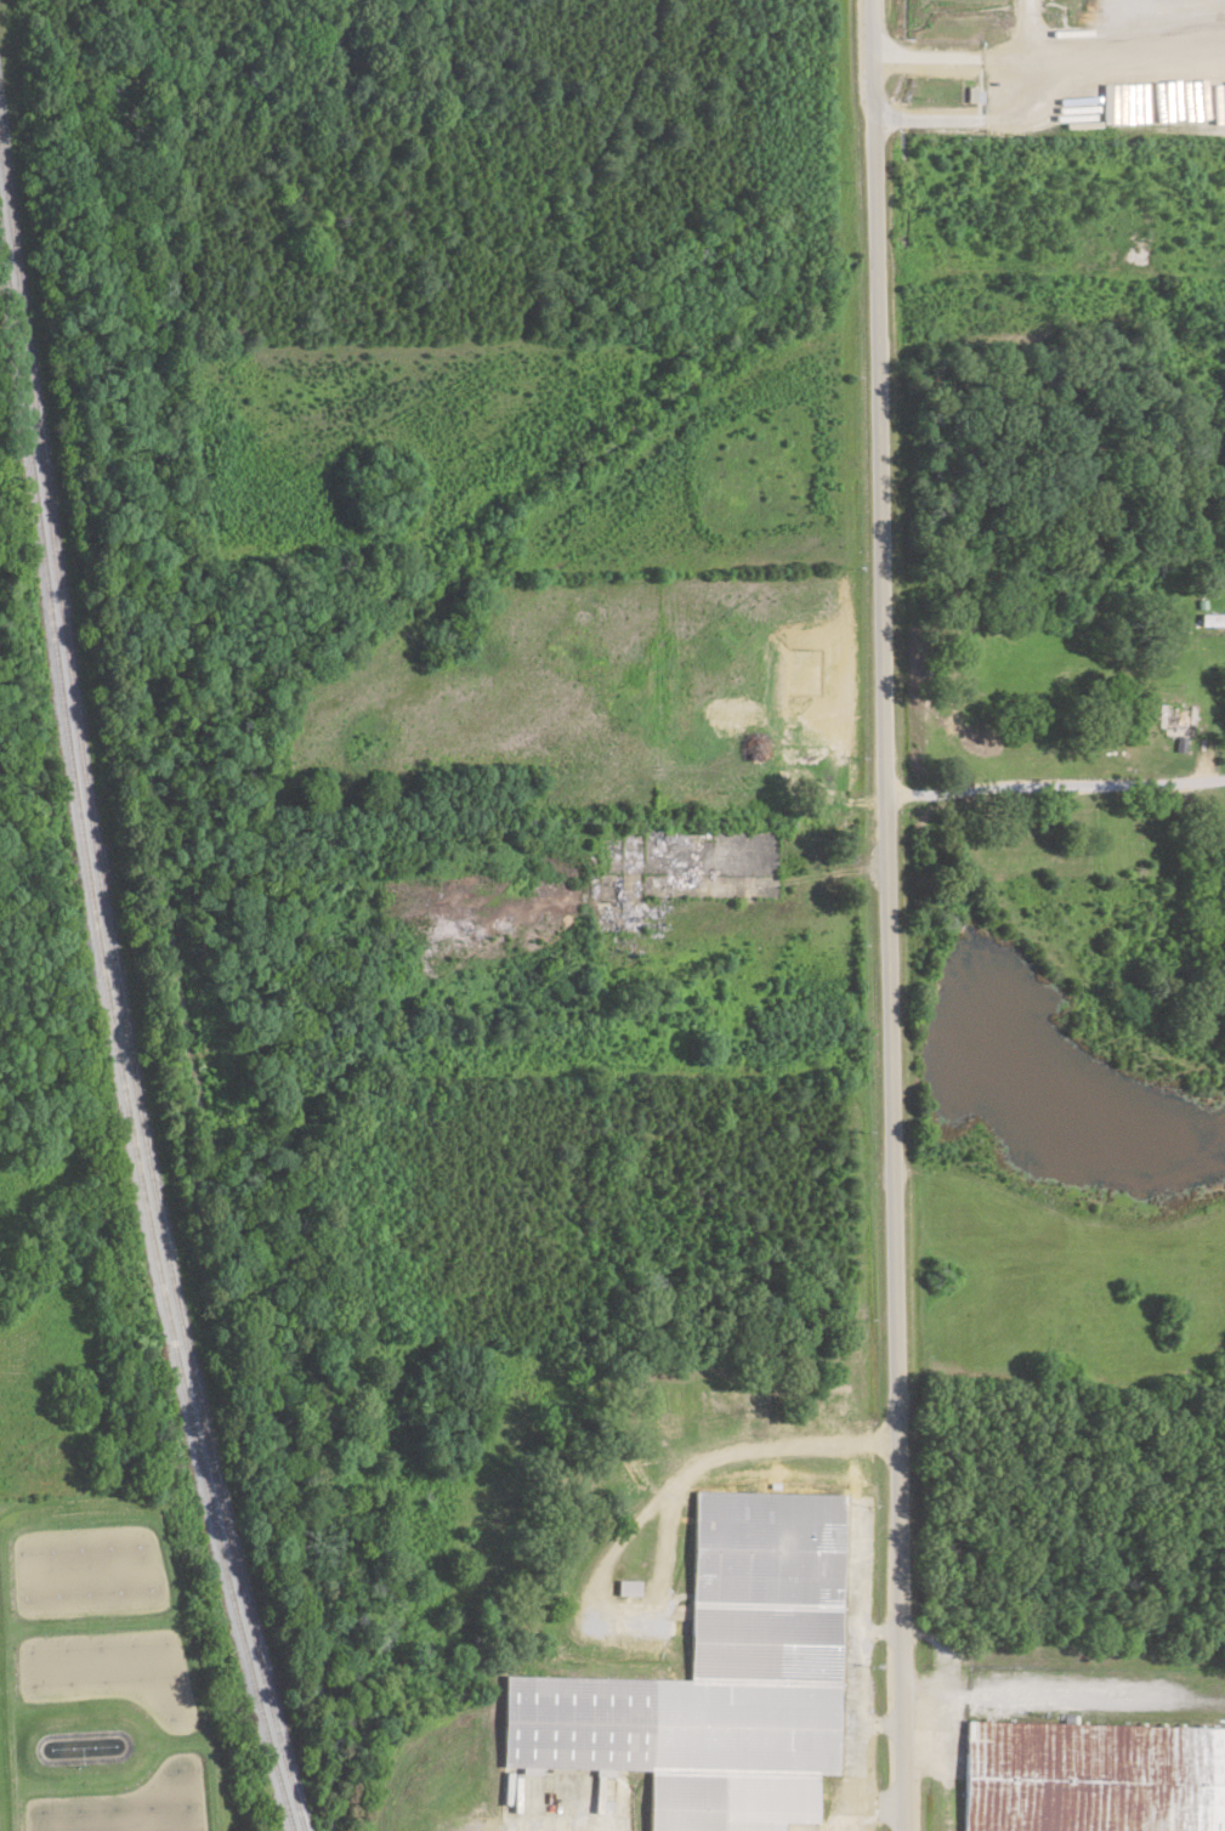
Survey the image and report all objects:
building: (1209, 619)
building: (1176, 718)
road: (886, 915)
railway: (115, 983)
railway: (114, 1033)
building: (625, 1586)
building: (715, 1677)
building: (1091, 1776)

